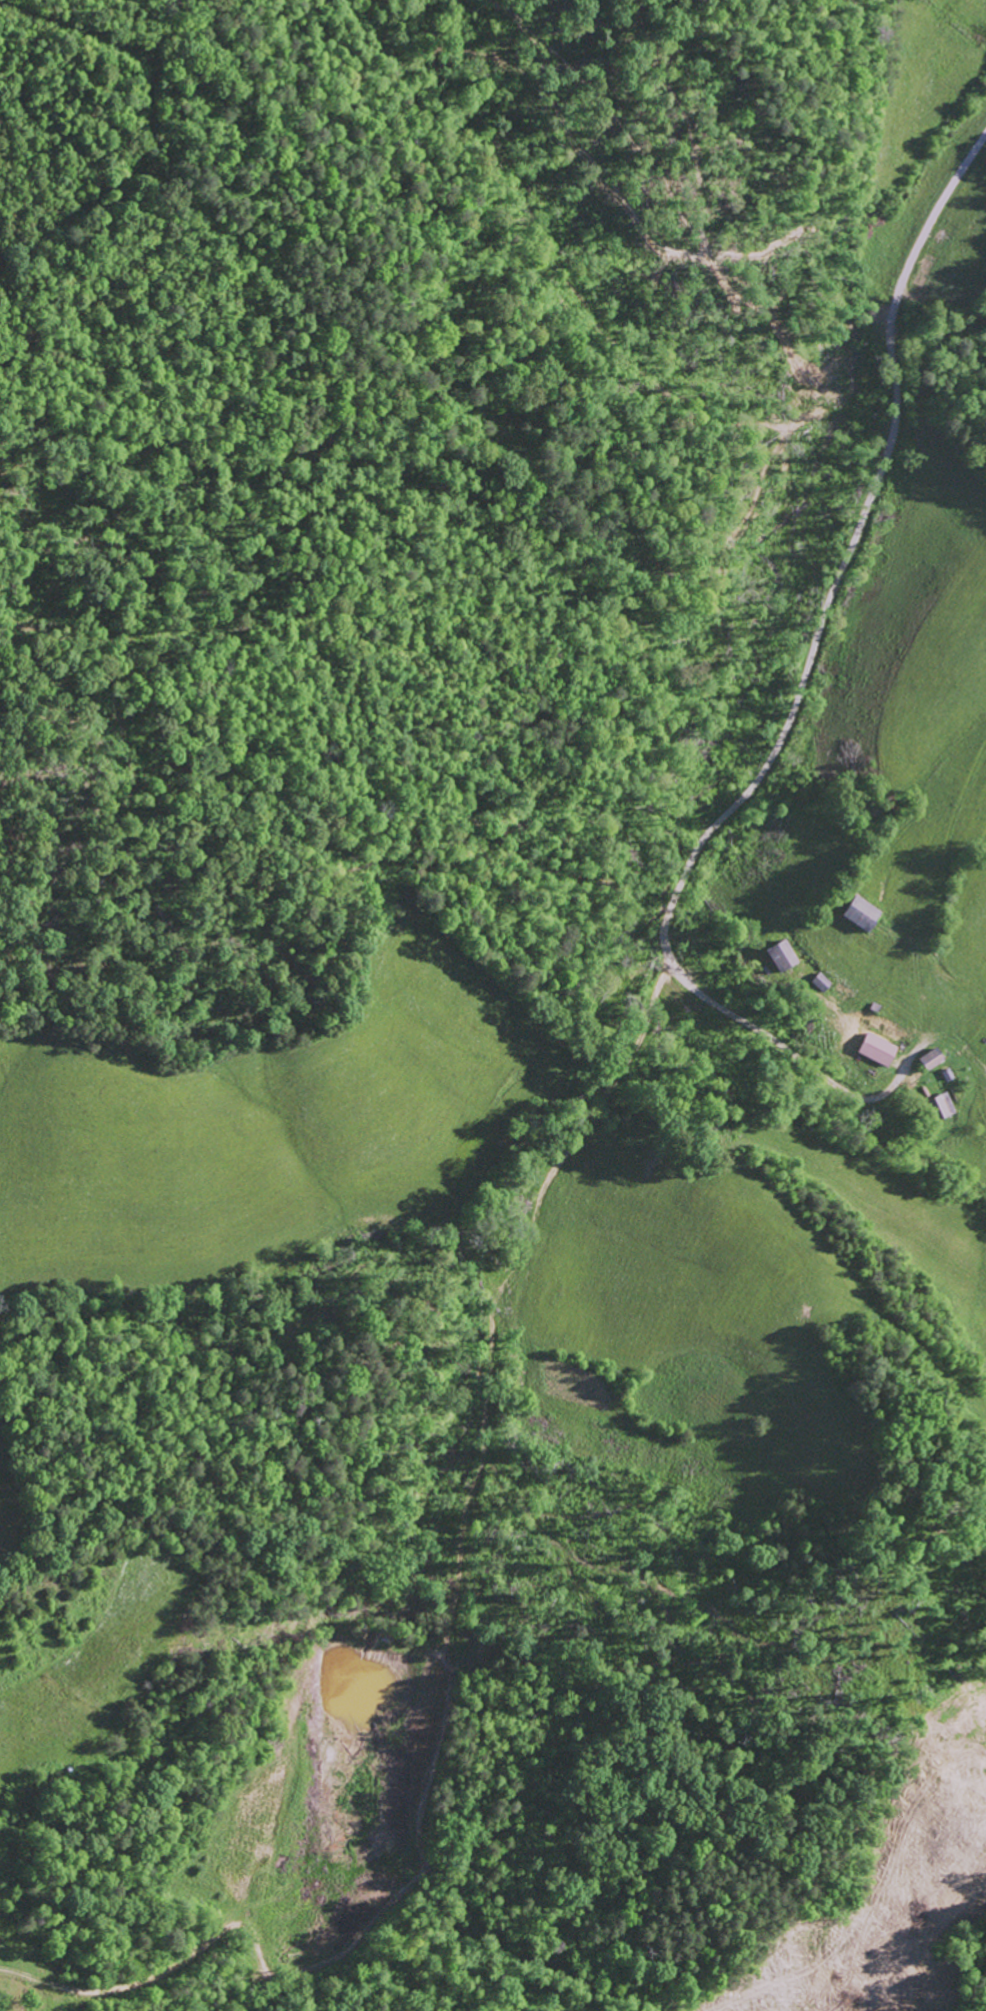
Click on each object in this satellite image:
road: (797, 696)
building: (856, 913)
building: (778, 955)
building: (875, 1049)
building: (929, 1059)
building: (940, 1105)
road: (905, 1896)

